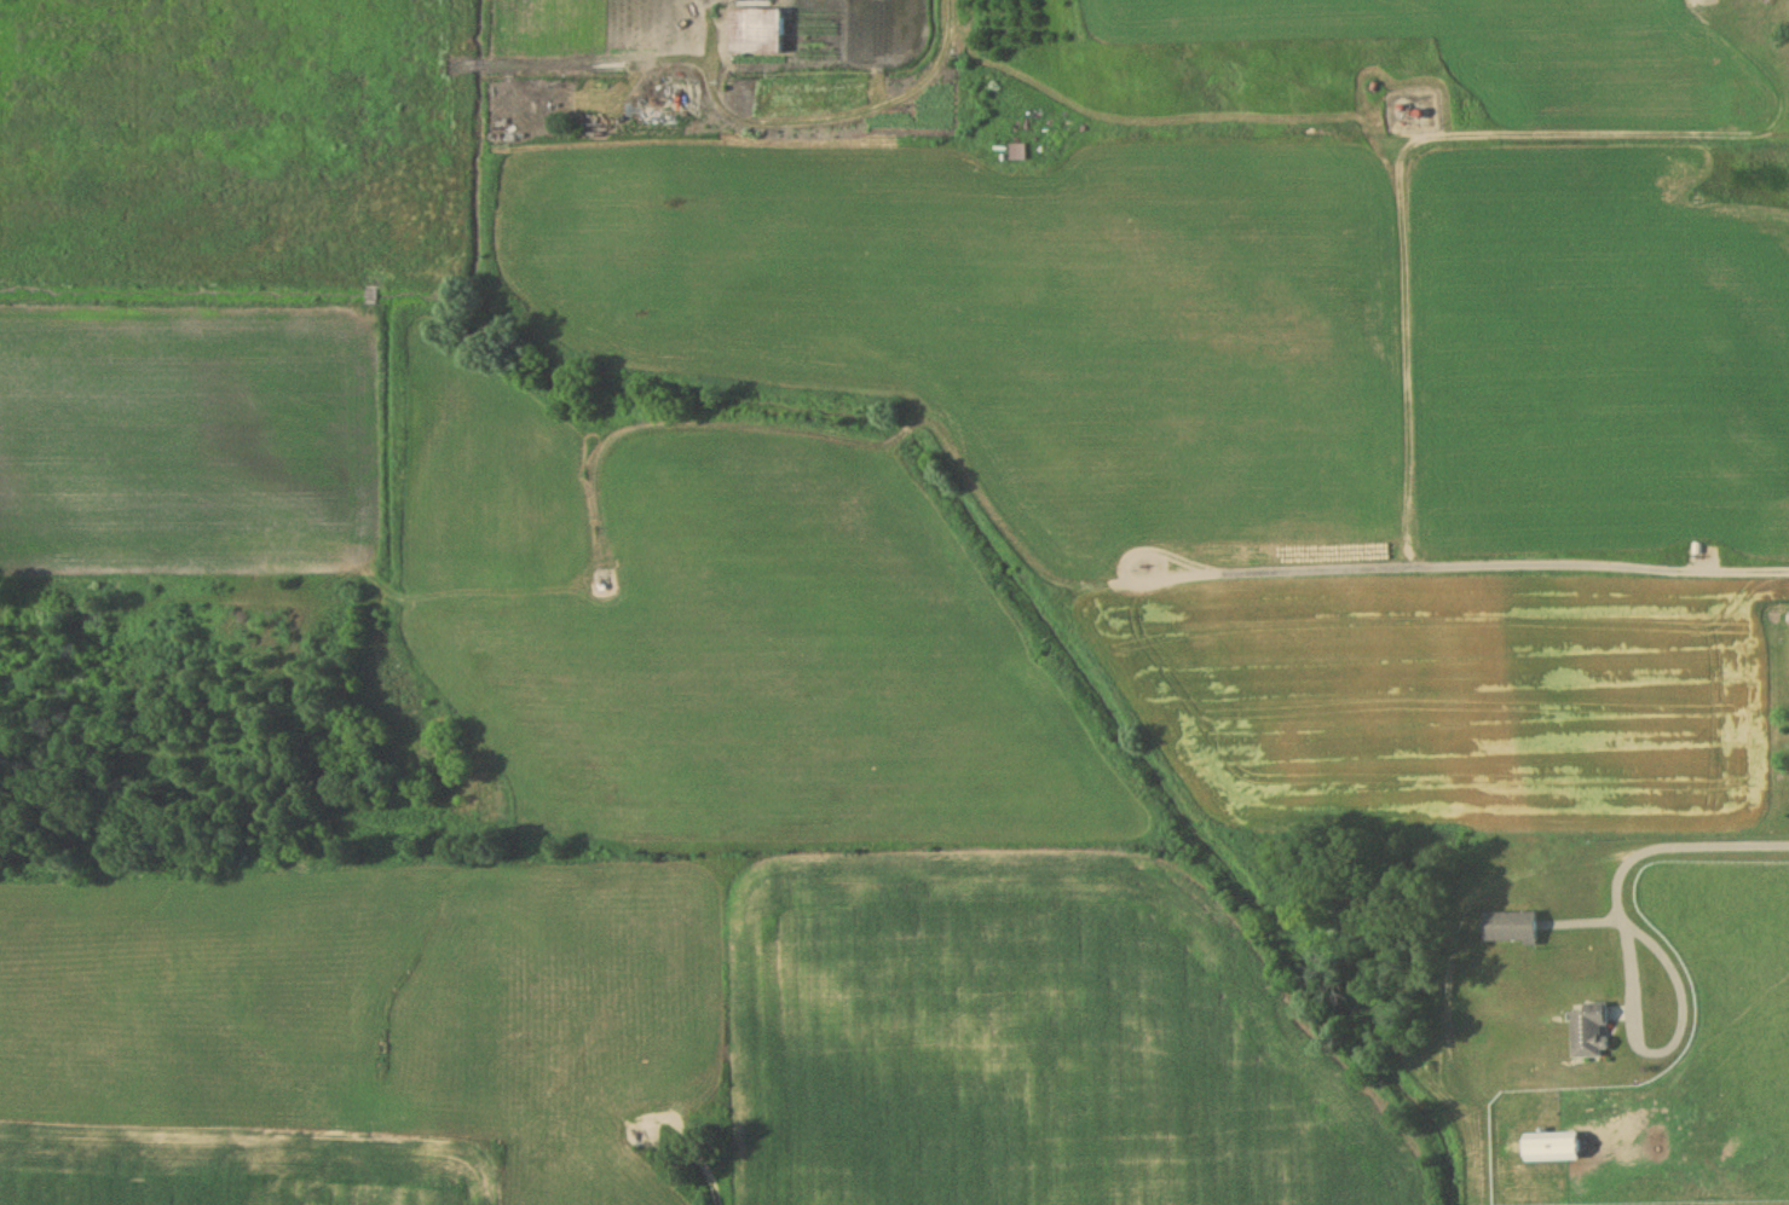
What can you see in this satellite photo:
building: (754, 34)
road: (883, 104)
building: (1016, 156)
road: (1420, 312)
road: (1602, 564)
road: (1668, 848)
building: (1508, 929)
building: (1588, 1033)
road: (1668, 1049)
building: (1549, 1149)
road: (705, 1160)

